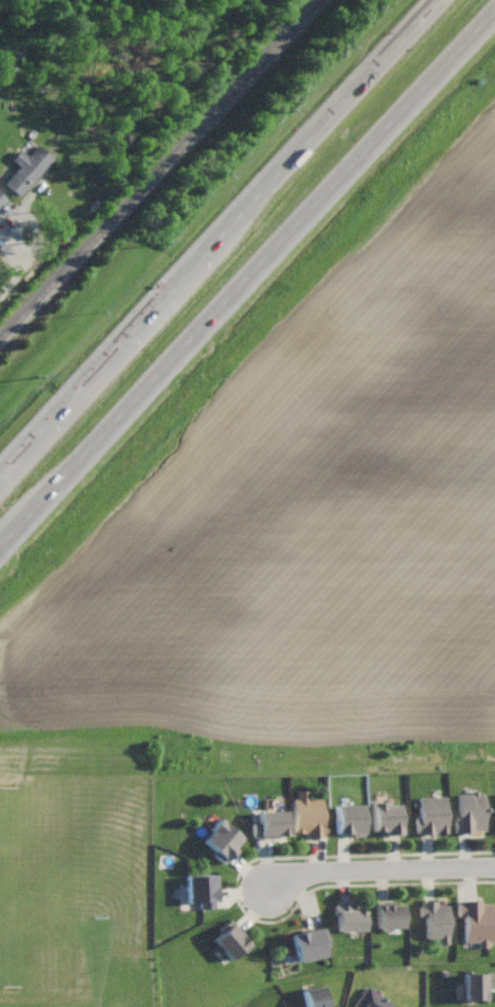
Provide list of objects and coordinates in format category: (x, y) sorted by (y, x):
railway: (159, 167)
building: (27, 169)
building: (2, 200)
road: (218, 235)
road: (22, 266)
road: (247, 274)
building: (470, 812)
building: (432, 815)
building: (309, 816)
building: (385, 817)
building: (348, 819)
building: (270, 823)
building: (220, 838)
road: (379, 871)
building: (200, 888)
building: (389, 914)
building: (349, 917)
building: (435, 921)
building: (476, 921)
building: (229, 941)
building: (308, 942)
building: (475, 985)
building: (317, 997)
building: (369, 999)

